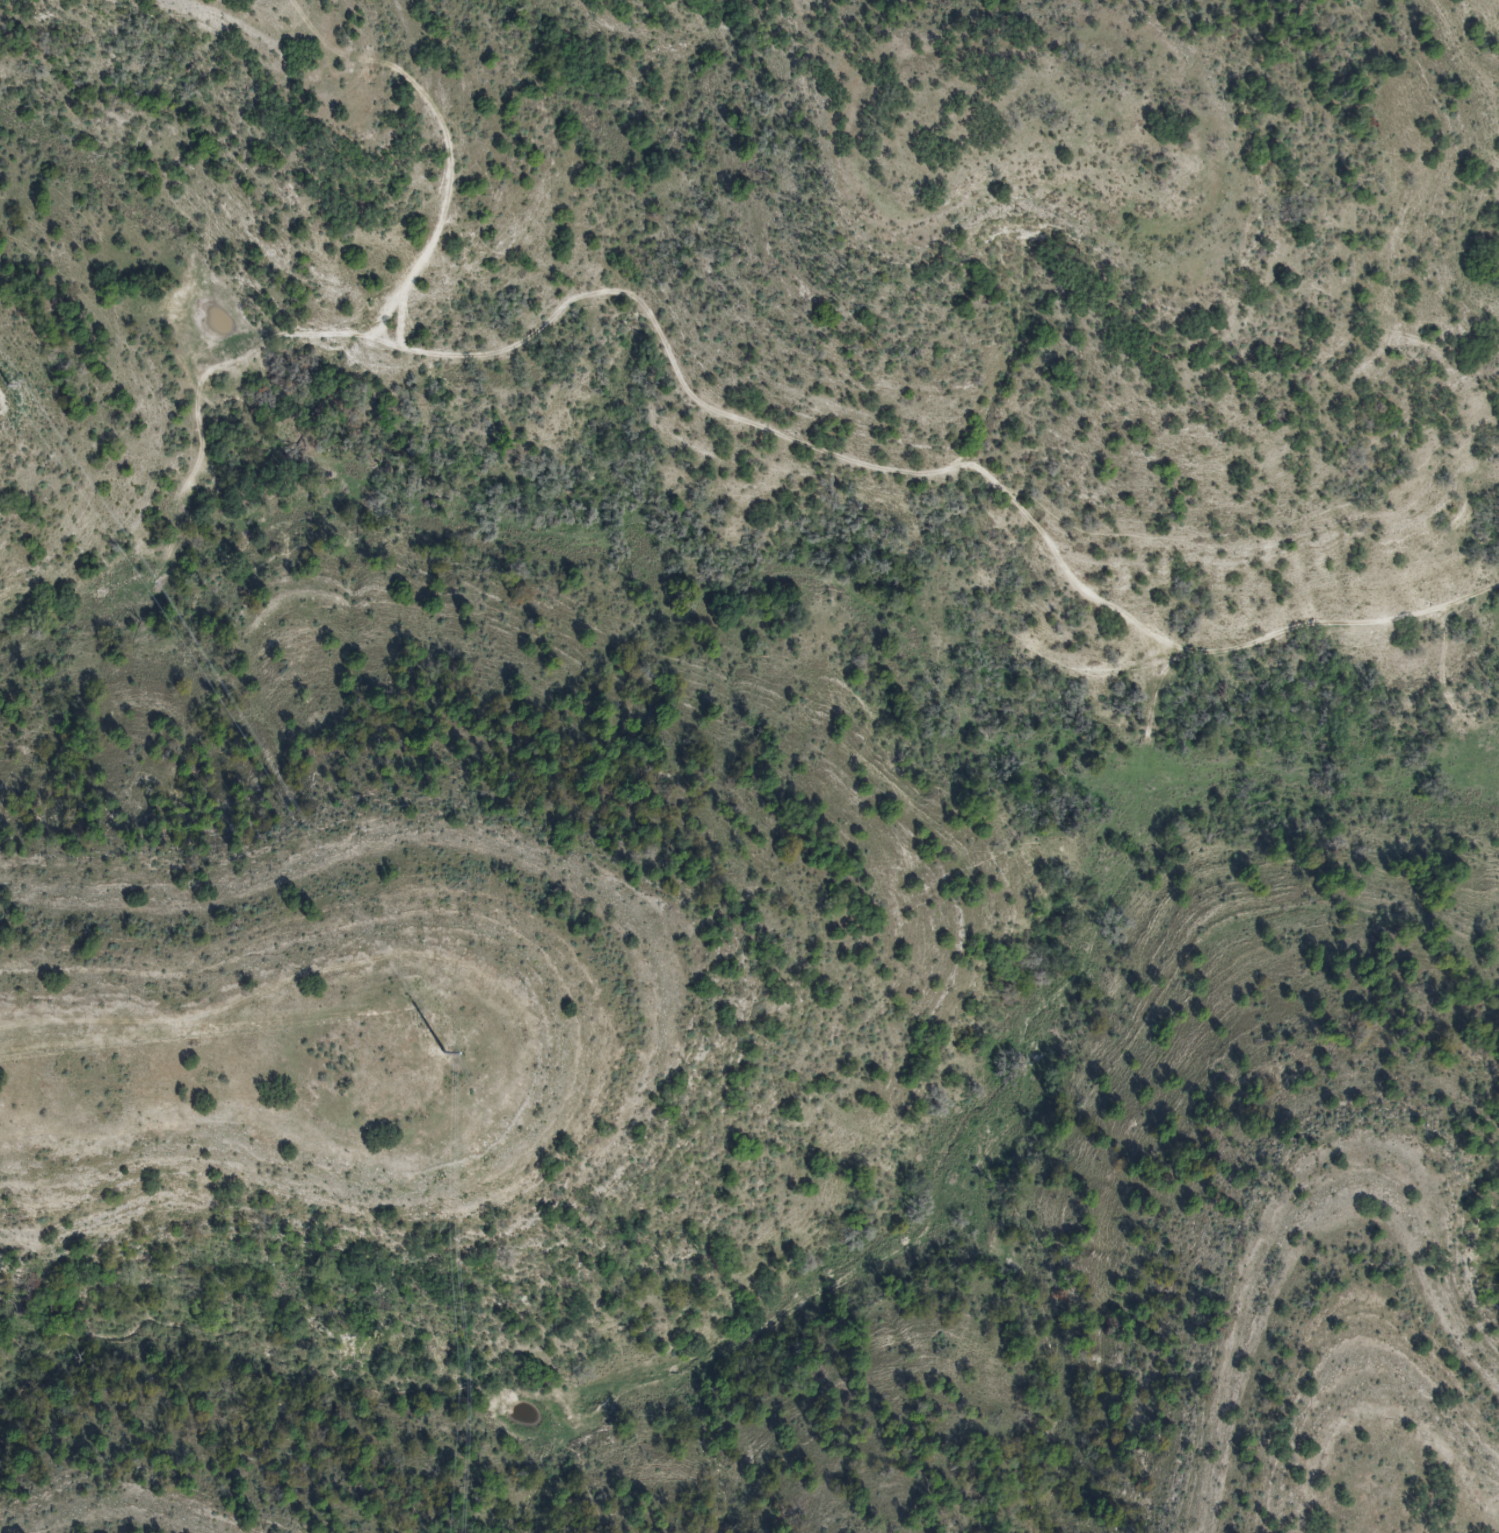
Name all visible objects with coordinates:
power tower: (10, 387)
power tower: (445, 1055)

